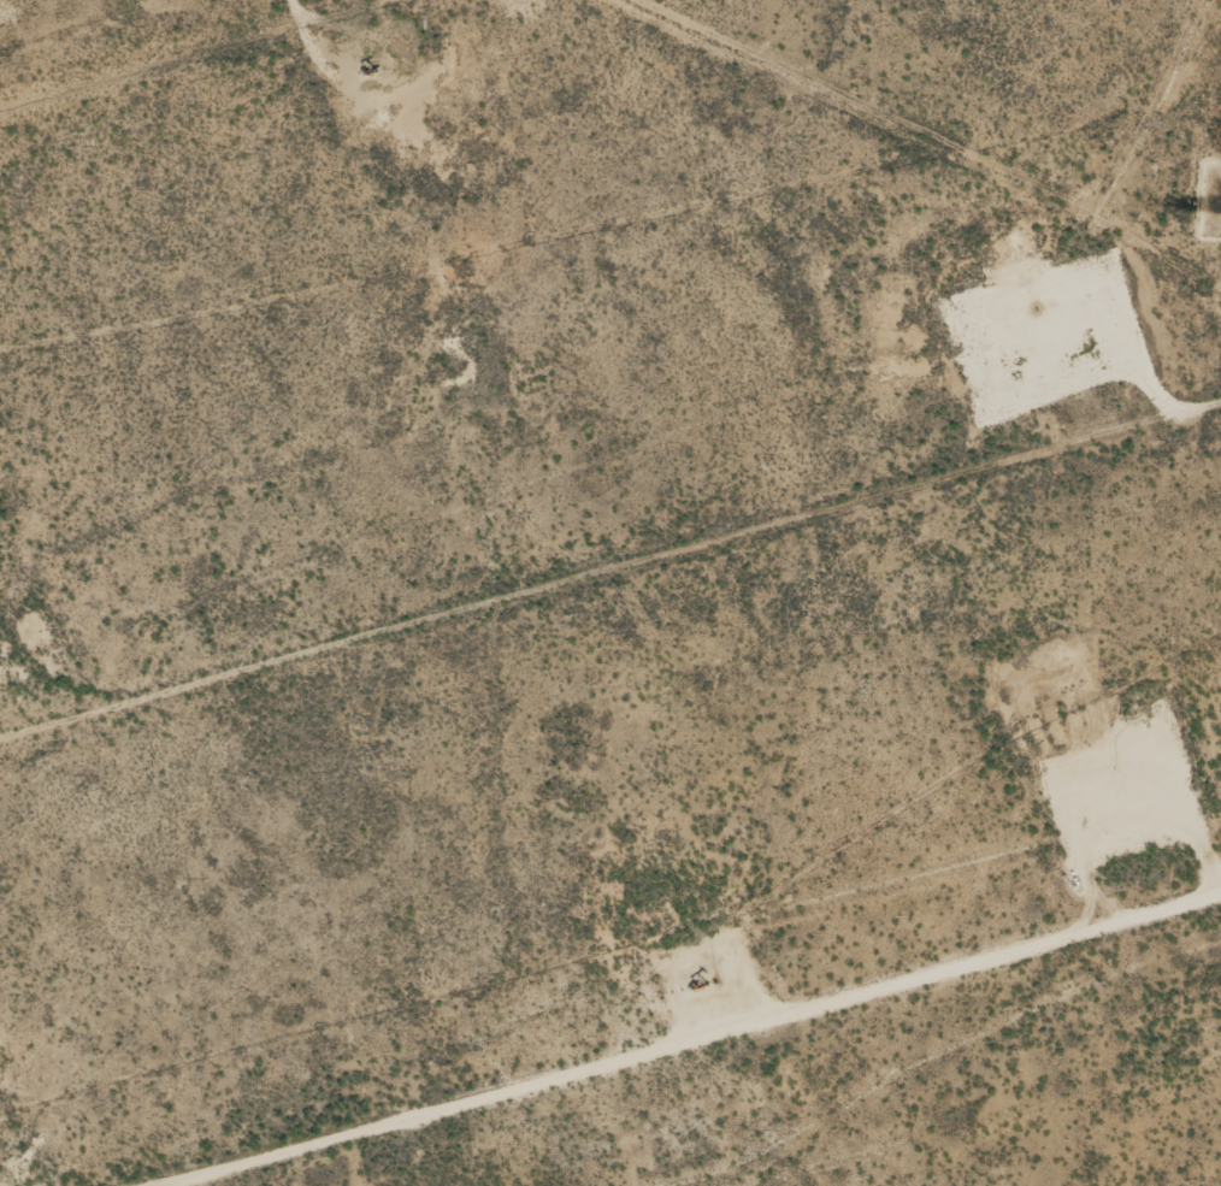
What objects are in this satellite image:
road: (794, 1068)

